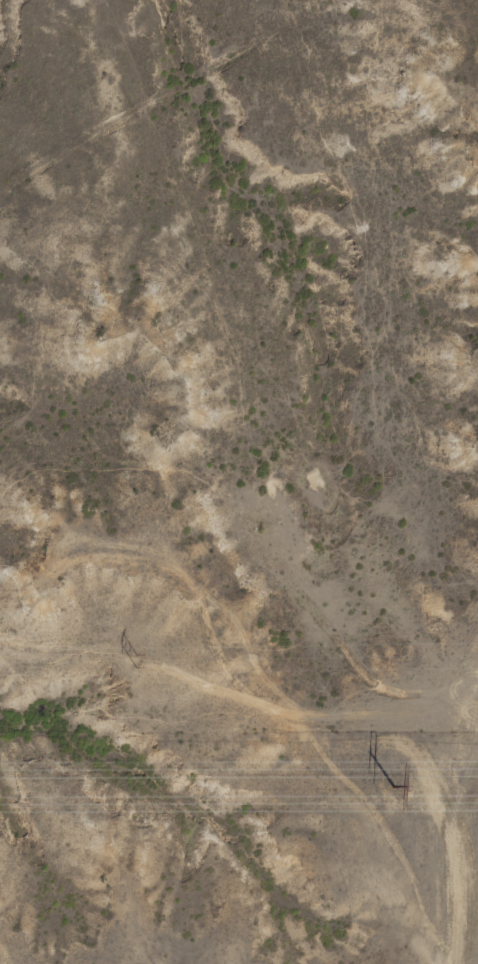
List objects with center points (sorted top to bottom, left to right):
power tower: (134, 659)
power tower: (394, 786)
road: (476, 959)

